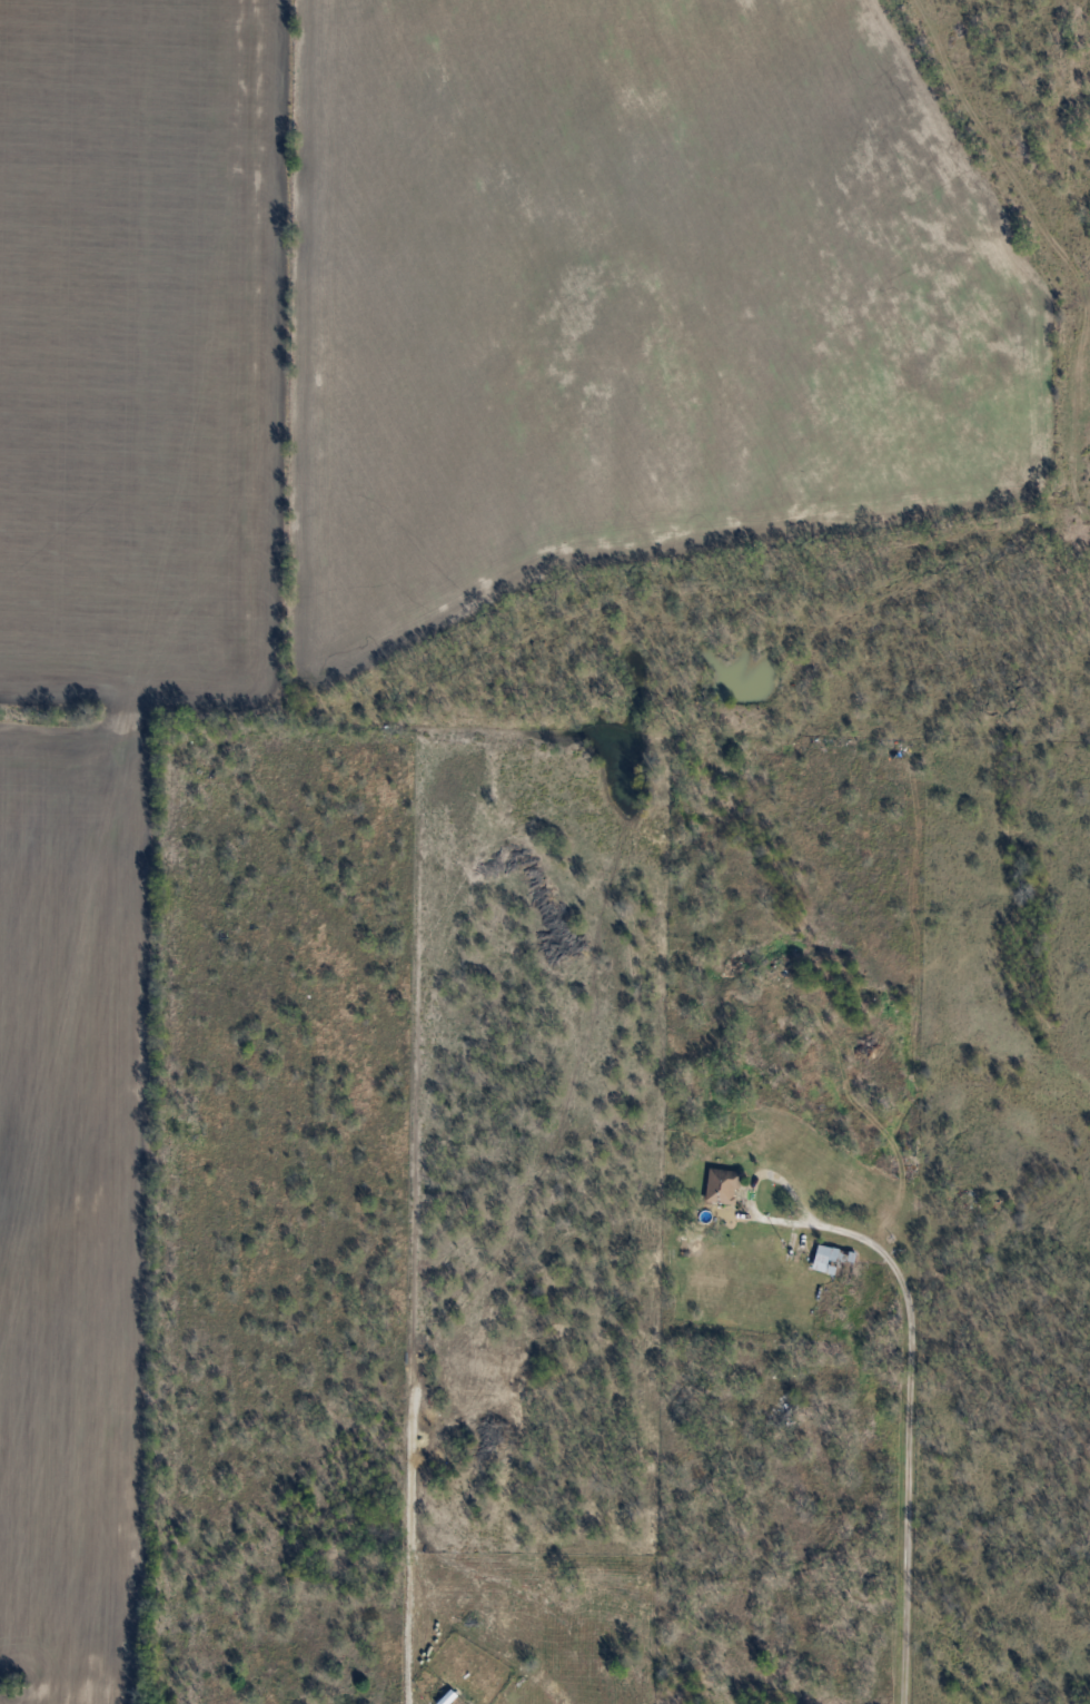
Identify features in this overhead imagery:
road: (752, 1180)
building: (721, 1185)
building: (828, 1258)
road: (909, 1429)

